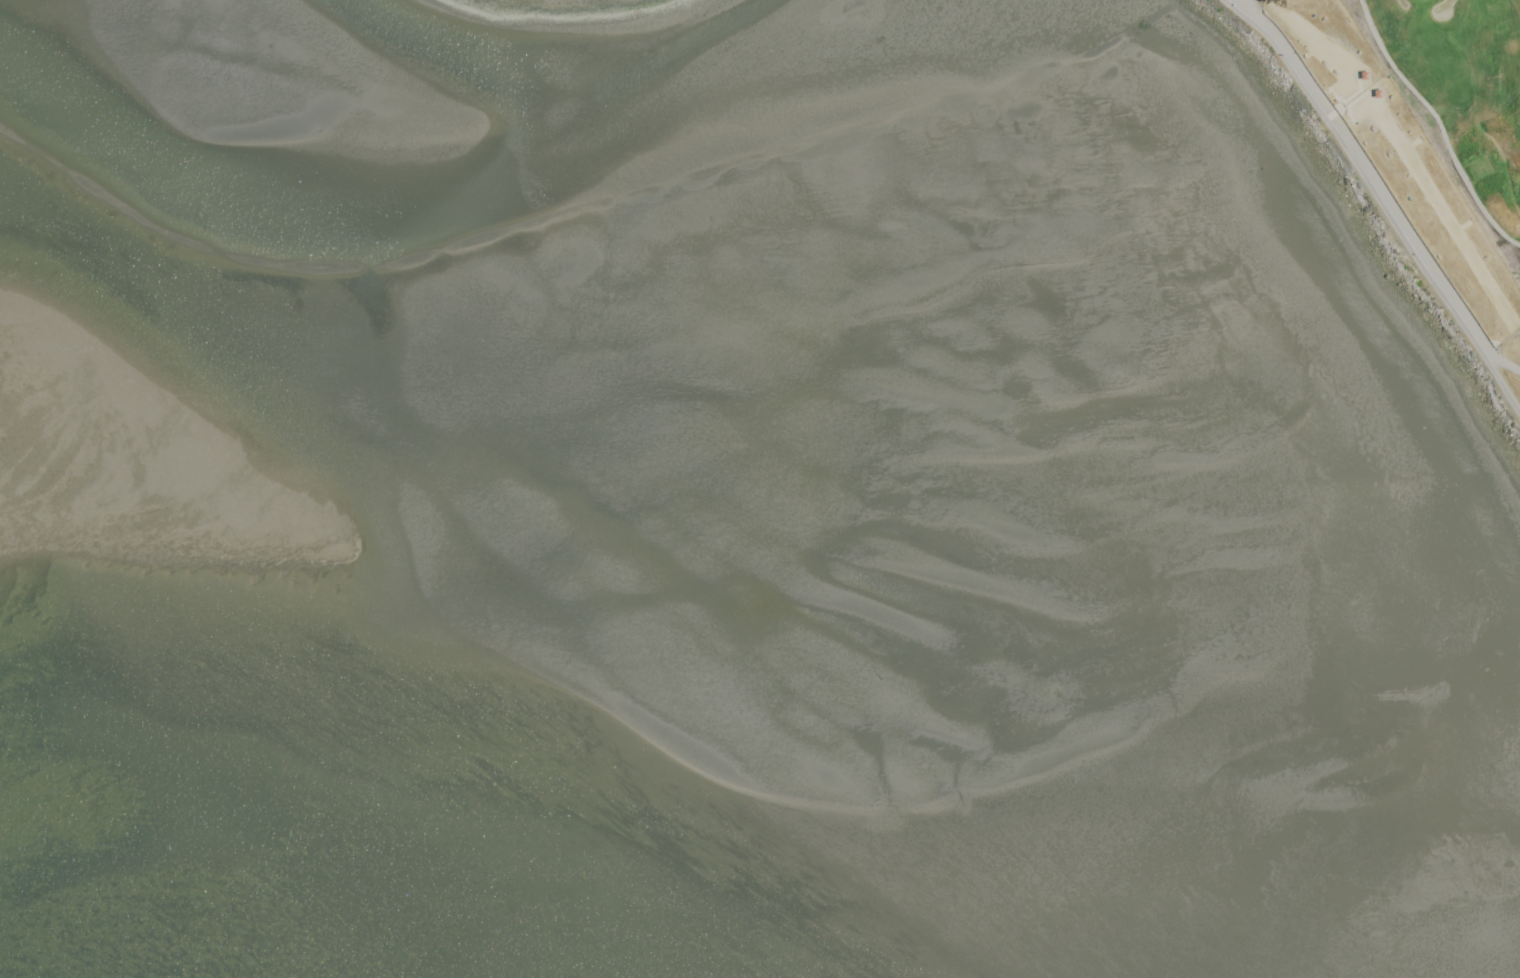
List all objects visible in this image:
park: (1422, 2)
park: (555, 7)
park: (1460, 97)
road: (1403, 153)
road: (1386, 201)
road: (1488, 350)

